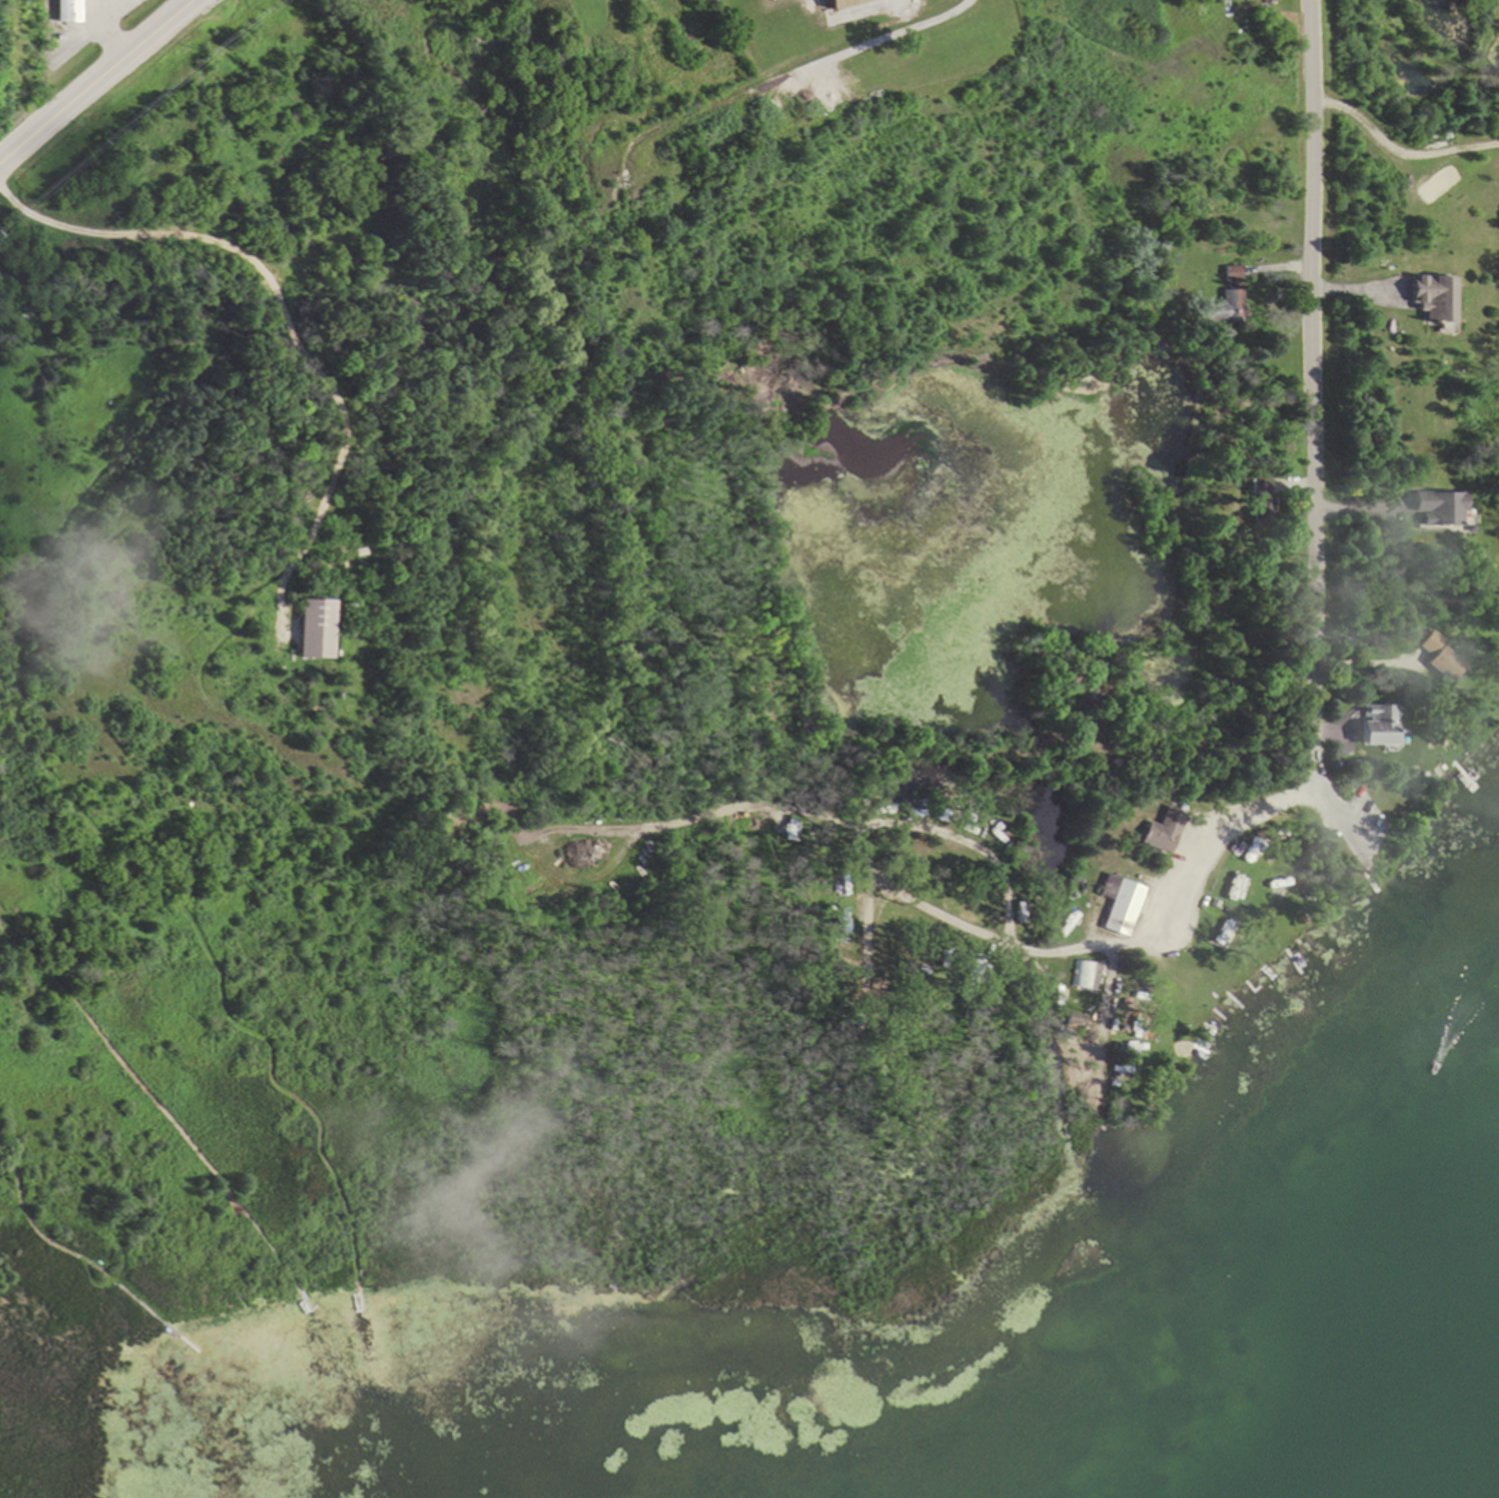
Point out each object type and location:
building: (839, 3)
building: (68, 10)
road: (99, 82)
building: (1428, 299)
building: (1226, 301)
building: (1437, 510)
building: (1259, 511)
road: (1311, 516)
building: (1437, 657)
building: (1375, 727)
building: (1158, 834)
building: (1119, 908)
building: (1087, 976)

